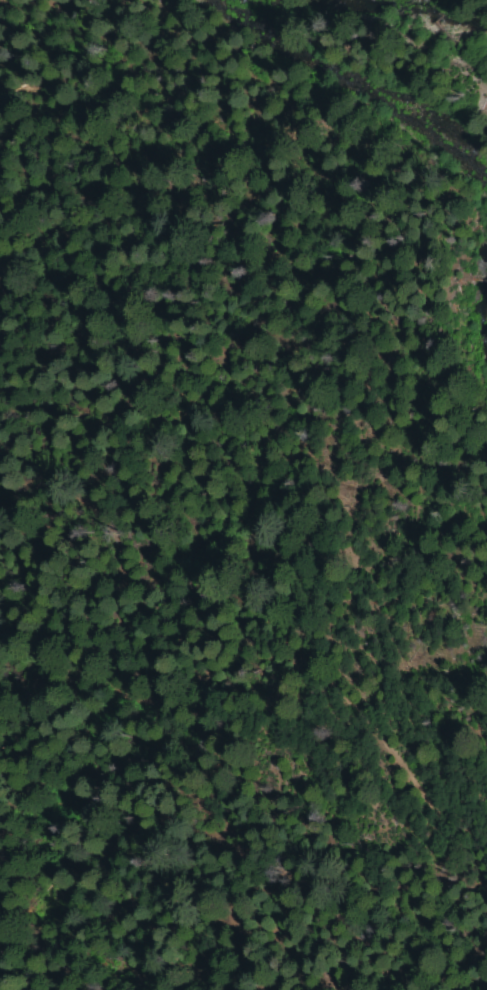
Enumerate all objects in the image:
river: (413, 203)

